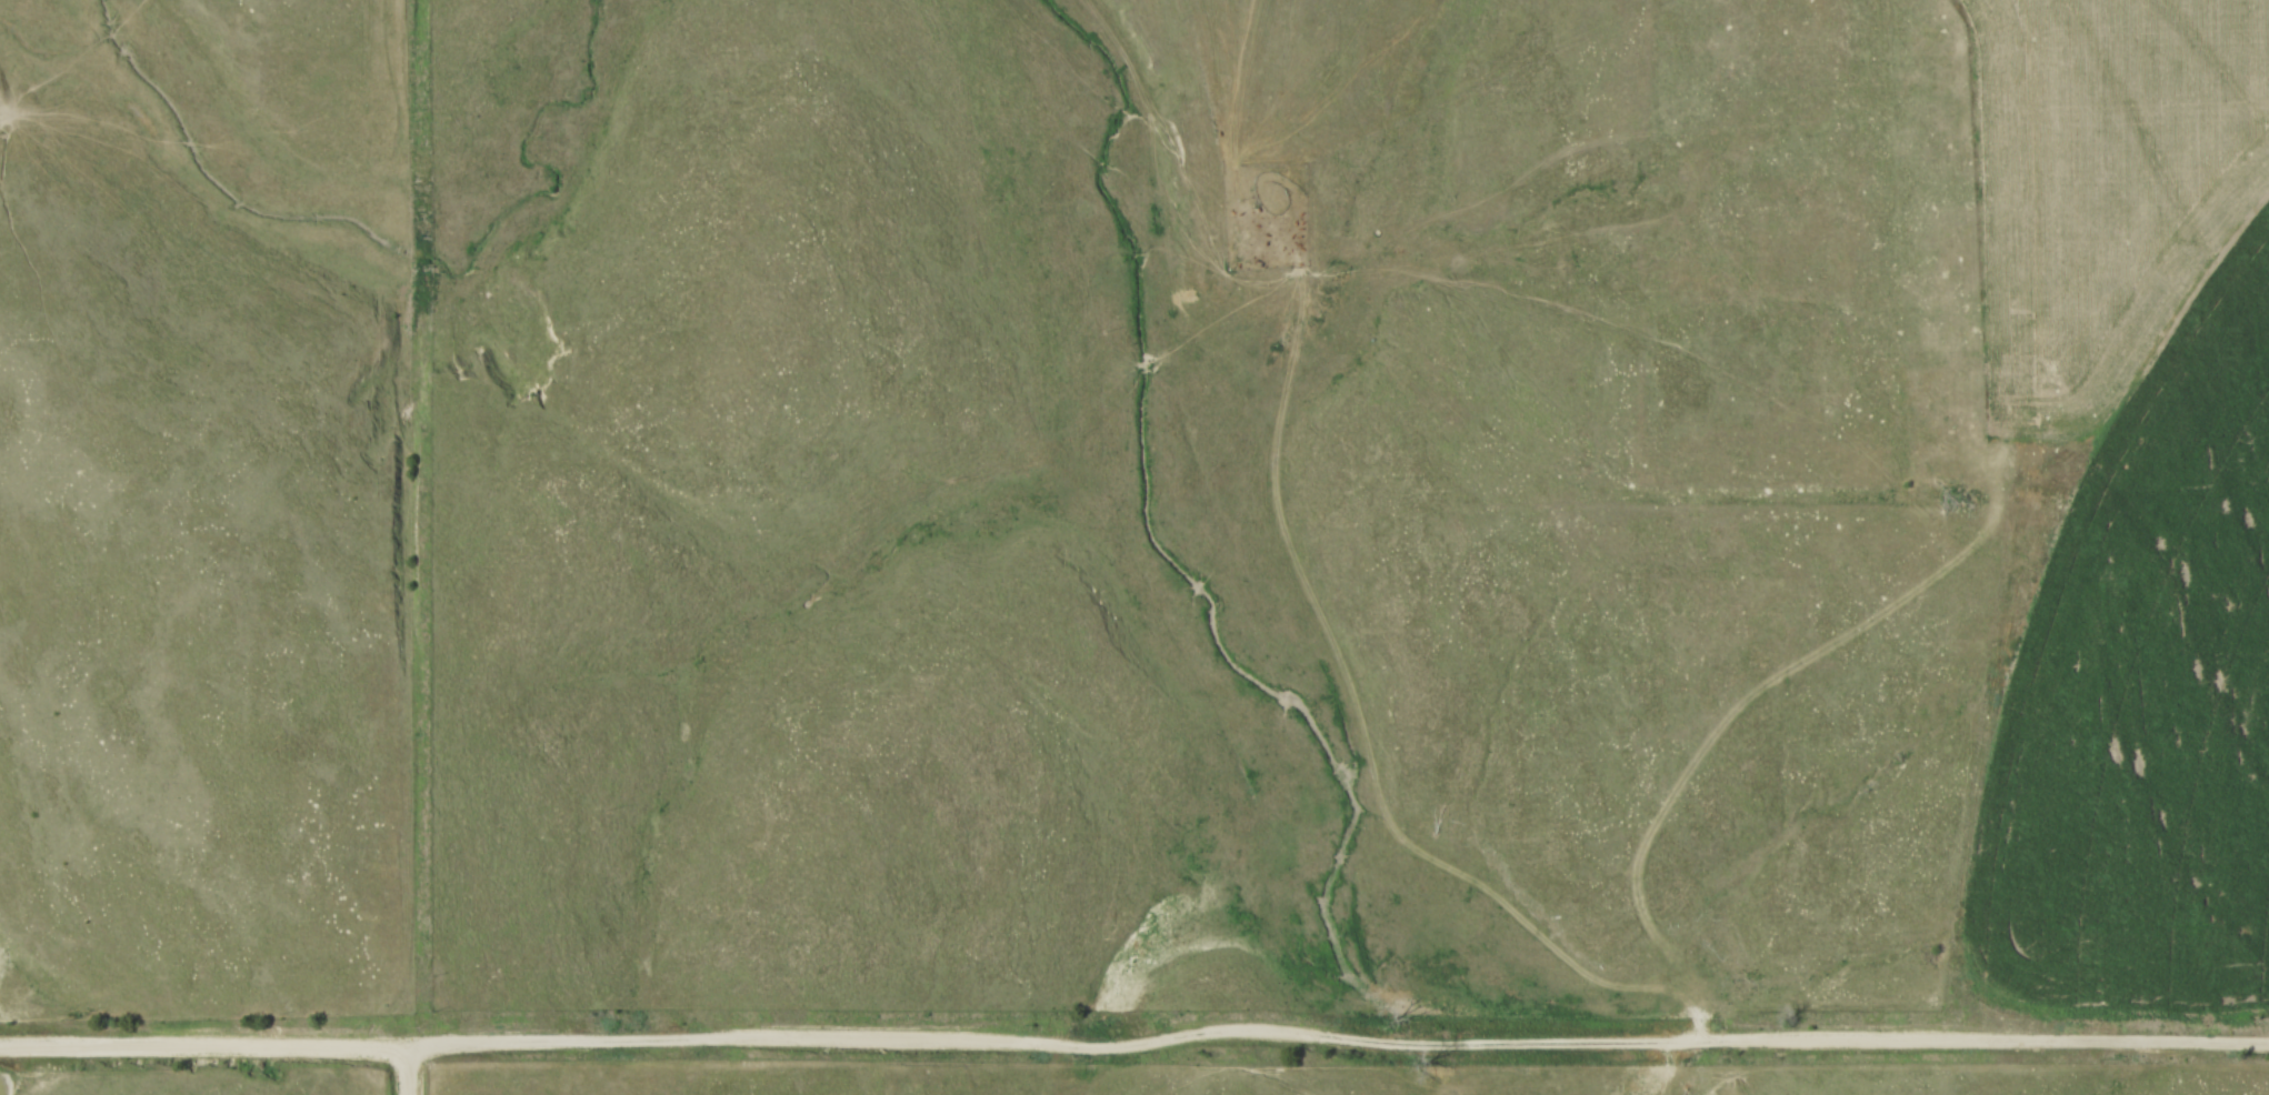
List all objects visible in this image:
road: (204, 1047)
road: (410, 1072)

